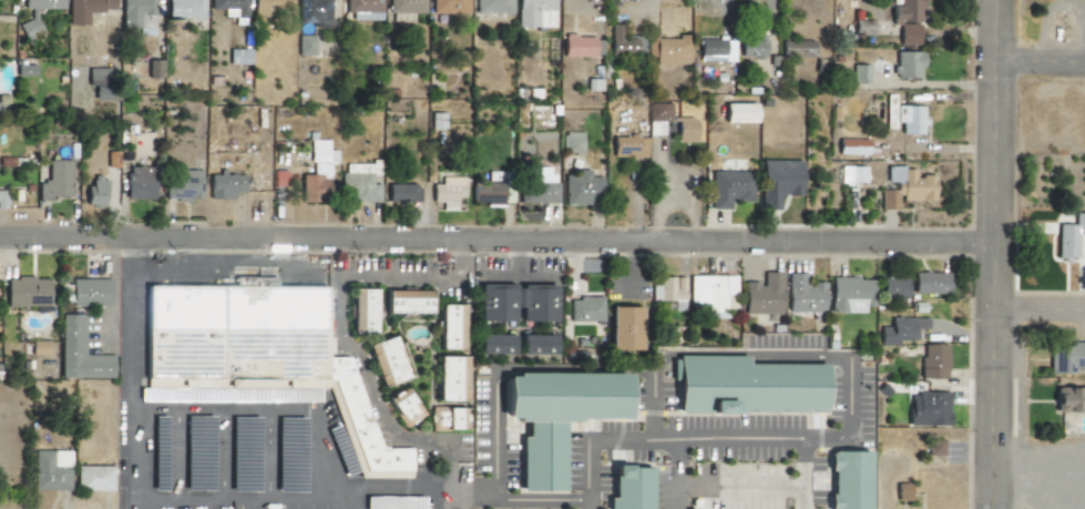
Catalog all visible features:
building: (41, 3)
building: (449, 6)
building: (492, 6)
building: (272, 7)
building: (229, 8)
building: (85, 9)
building: (184, 9)
building: (364, 9)
building: (405, 9)
building: (905, 11)
building: (313, 12)
building: (534, 13)
building: (140, 14)
building: (30, 24)
building: (908, 33)
building: (623, 43)
building: (305, 44)
building: (576, 45)
building: (754, 45)
building: (796, 48)
building: (671, 50)
building: (715, 50)
building: (237, 55)
road: (1042, 60)
building: (907, 63)
building: (156, 68)
building: (23, 69)
building: (859, 73)
building: (99, 82)
building: (738, 112)
building: (657, 116)
building: (902, 116)
building: (685, 130)
building: (571, 142)
building: (628, 146)
building: (851, 146)
building: (320, 152)
building: (111, 159)
building: (852, 174)
building: (55, 180)
building: (777, 181)
building: (139, 182)
building: (315, 183)
building: (182, 185)
building: (224, 185)
building: (536, 186)
building: (358, 187)
building: (728, 187)
building: (904, 187)
building: (581, 189)
building: (94, 190)
building: (447, 192)
building: (400, 193)
building: (505, 195)
building: (2, 197)
road: (498, 236)
building: (1068, 236)
road: (997, 254)
road: (518, 257)
road: (518, 277)
building: (929, 283)
building: (893, 288)
building: (668, 291)
building: (24, 292)
building: (89, 292)
building: (713, 294)
building: (803, 294)
building: (849, 294)
building: (762, 295)
building: (405, 302)
building: (514, 303)
road: (1042, 308)
building: (584, 309)
building: (359, 311)
building: (447, 326)
building: (622, 327)
road: (341, 337)
building: (492, 344)
building: (534, 344)
building: (38, 347)
building: (258, 352)
building: (80, 353)
road: (754, 353)
building: (1065, 357)
building: (932, 360)
building: (383, 362)
road: (130, 374)
building: (448, 378)
building: (745, 385)
building: (1068, 399)
building: (402, 407)
building: (928, 409)
building: (552, 416)
building: (446, 418)
road: (678, 440)
building: (934, 447)
building: (196, 452)
building: (242, 454)
building: (288, 455)
building: (50, 470)
road: (798, 474)
road: (673, 475)
building: (92, 478)
building: (846, 480)
road: (735, 485)
building: (627, 488)
building: (901, 491)
road: (296, 498)
road: (519, 499)

